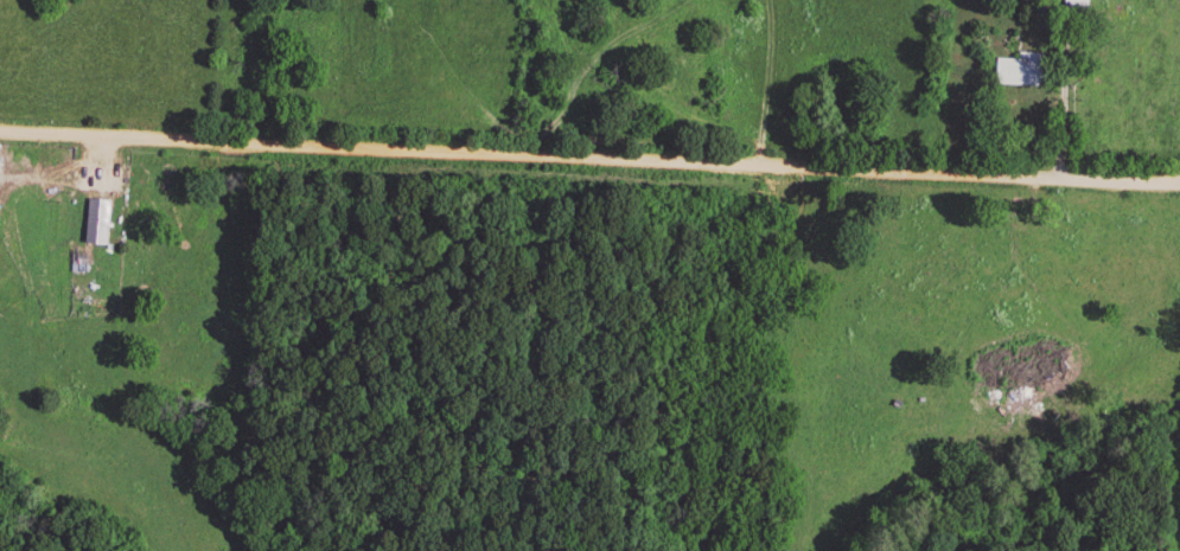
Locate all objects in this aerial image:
building: (1072, 6)
building: (1016, 72)
road: (1061, 91)
road: (589, 164)
building: (96, 214)

